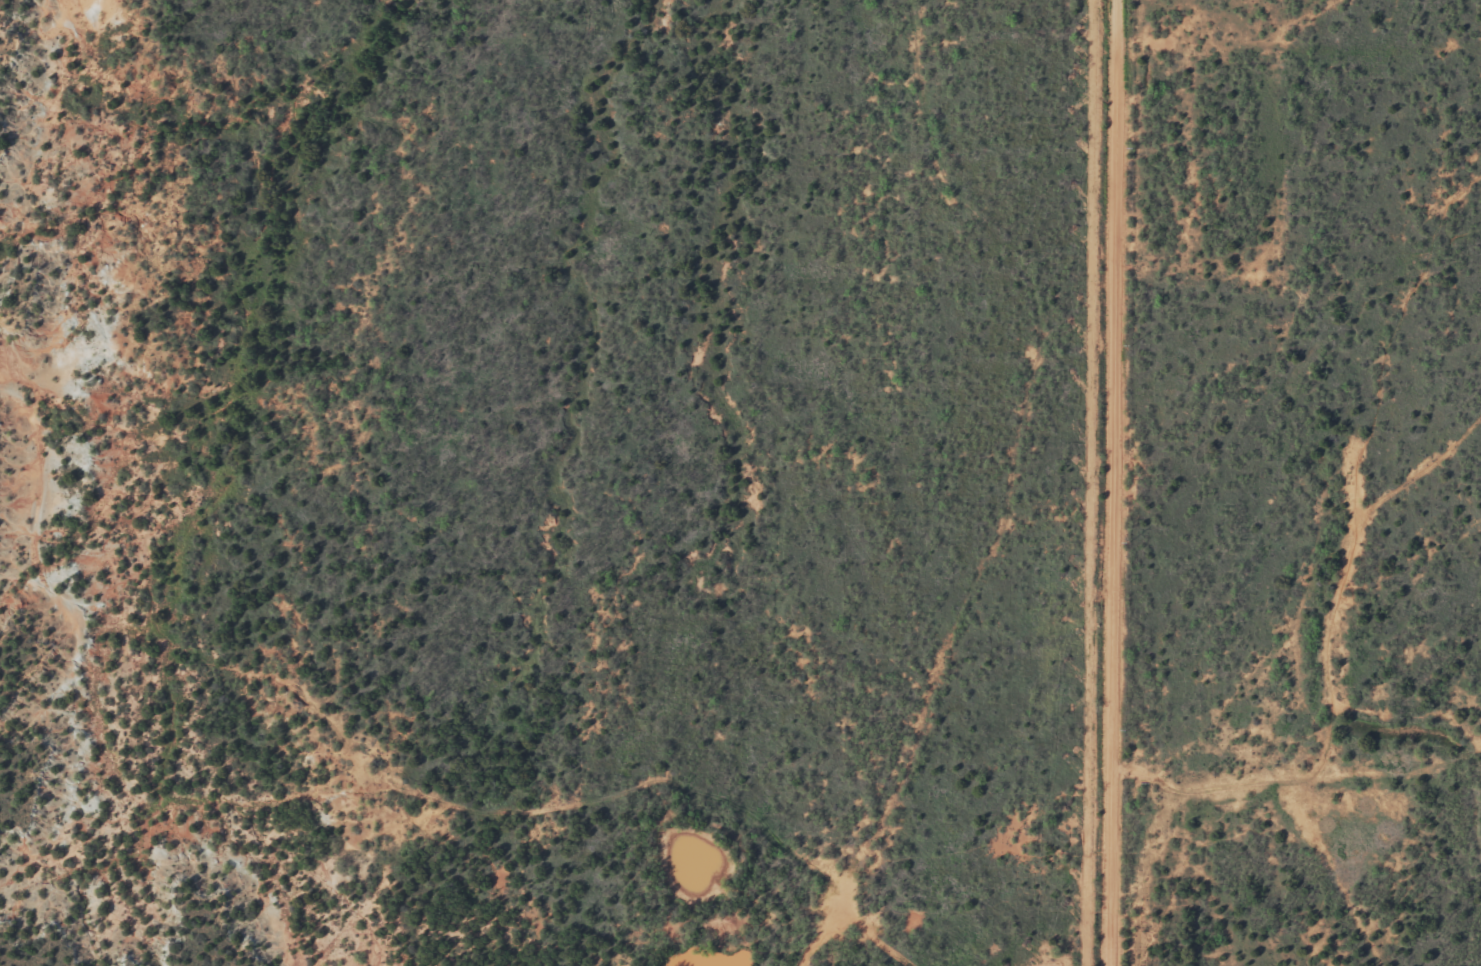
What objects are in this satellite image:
road: (1116, 483)
road: (839, 581)
road: (1285, 598)
road: (405, 752)

